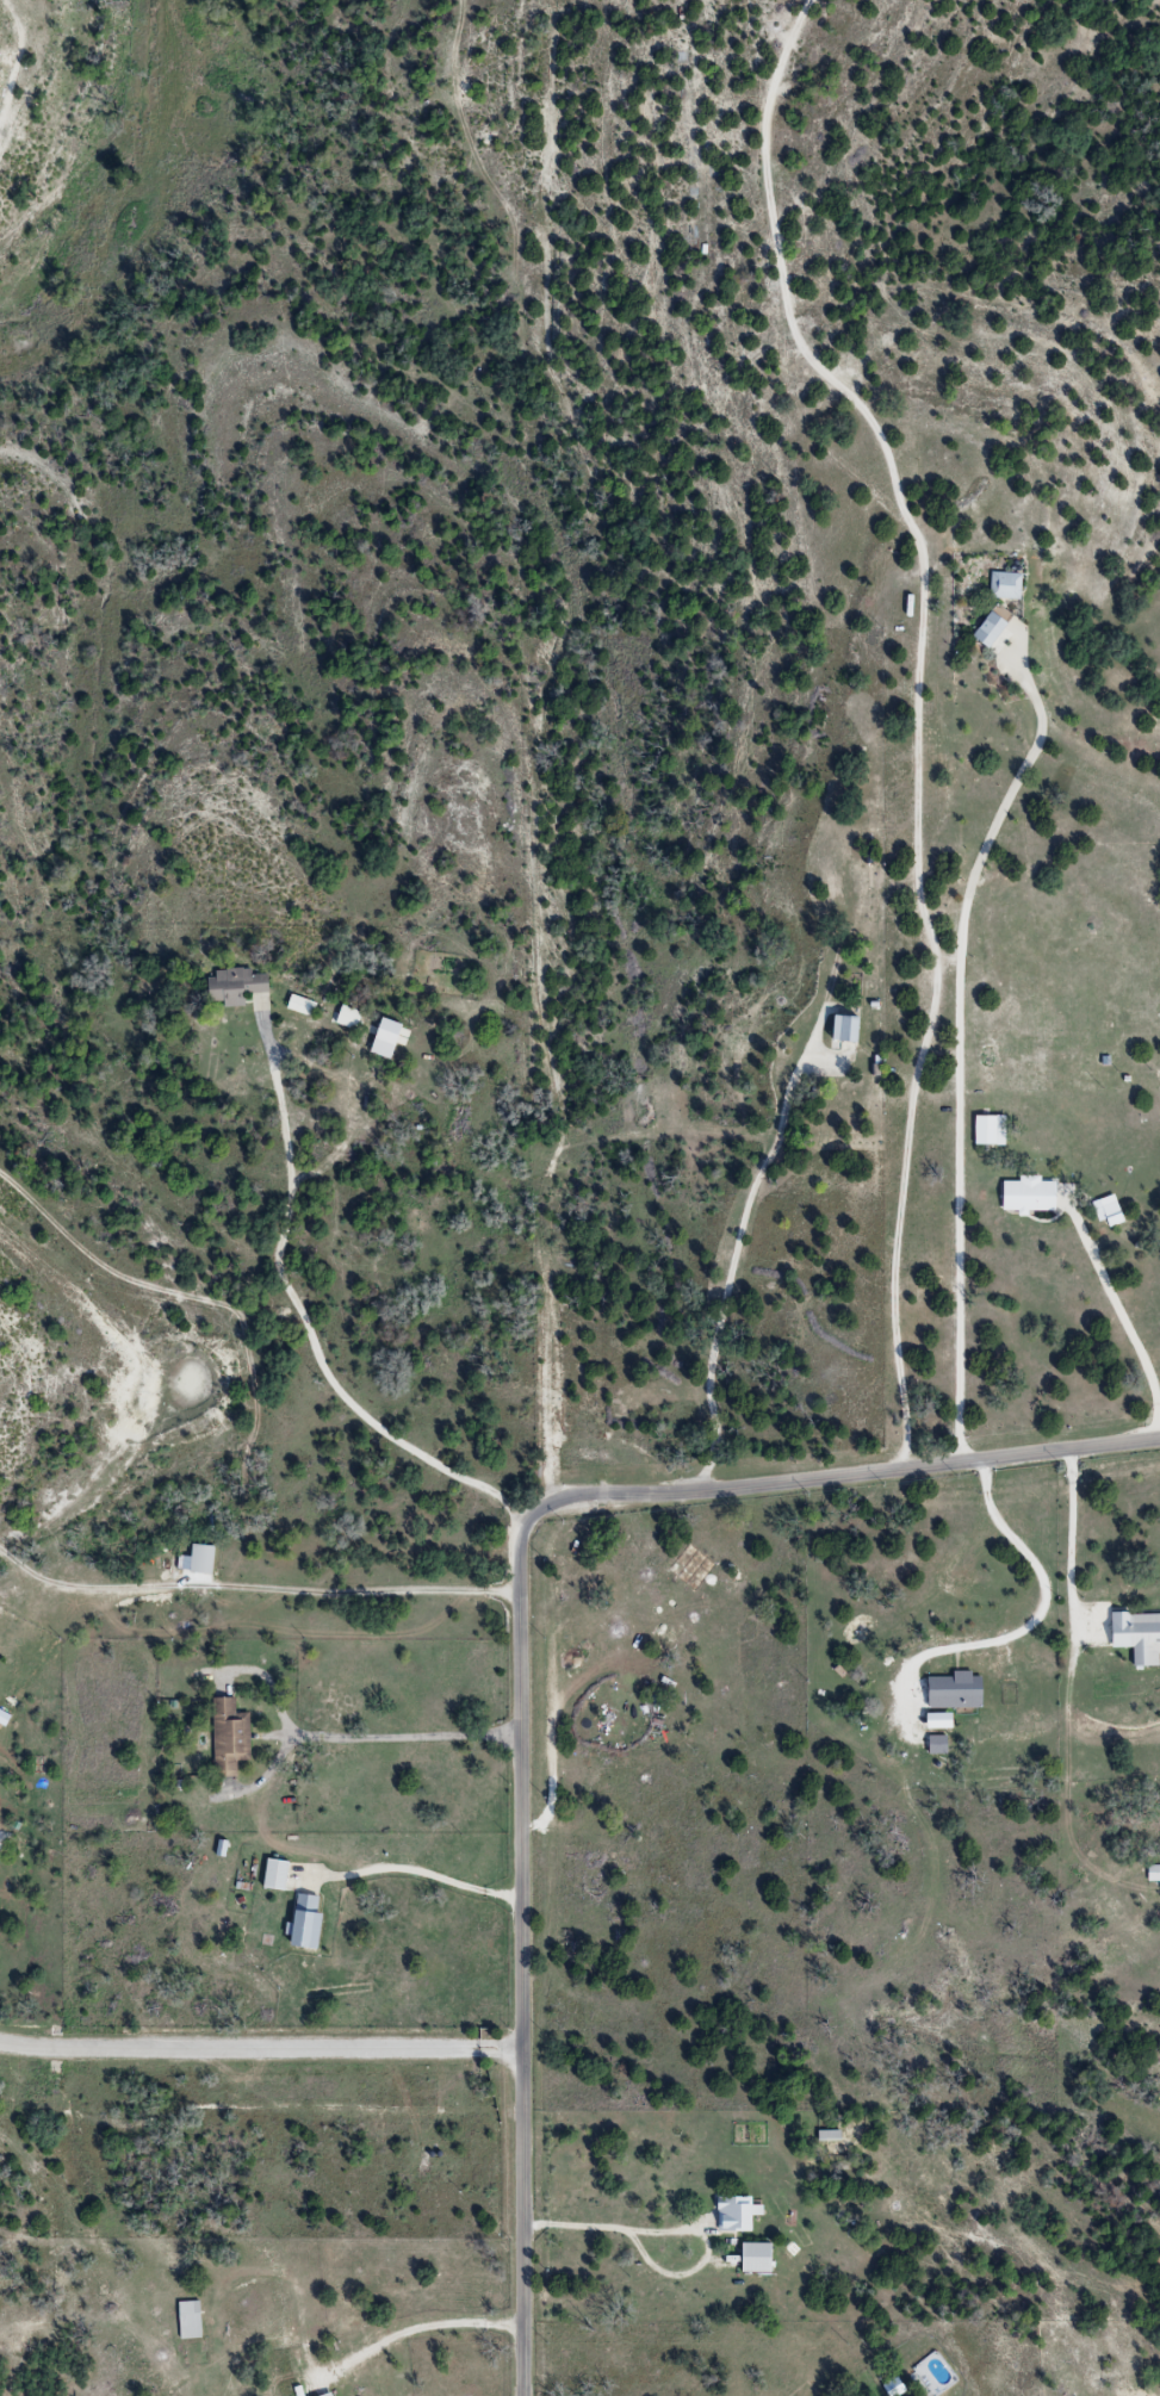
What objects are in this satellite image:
building: (1005, 584)
building: (993, 626)
road: (924, 708)
building: (241, 986)
building: (305, 1005)
building: (354, 1019)
building: (854, 1030)
road: (967, 1043)
building: (994, 1130)
building: (1034, 1196)
building: (1104, 1212)
road: (730, 1272)
road: (306, 1312)
road: (1119, 1320)
road: (1072, 1534)
building: (205, 1560)
road: (253, 1589)
road: (1042, 1609)
road: (519, 1635)
building: (1134, 1635)
building: (951, 1692)
road: (404, 1736)
building: (232, 1737)
road: (421, 1872)
building: (280, 1874)
building: (1152, 1874)
building: (312, 1923)
road: (260, 2049)
building: (730, 2215)
road: (610, 2223)
building: (751, 2259)
building: (192, 2320)
road: (422, 2323)
building: (333, 2395)

